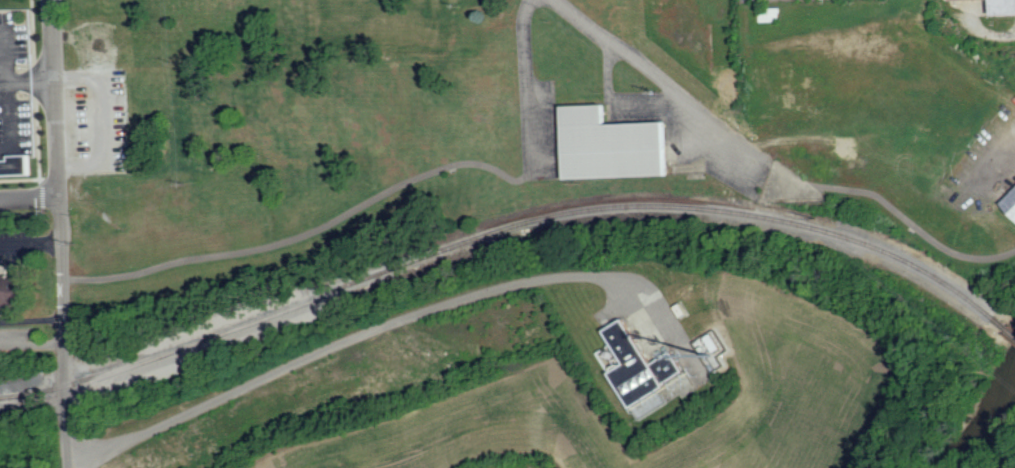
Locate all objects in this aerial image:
building: (955, 0)
building: (1003, 6)
road: (27, 80)
road: (8, 94)
parking lot: (96, 122)
road: (58, 139)
building: (609, 144)
road: (773, 163)
building: (14, 164)
road: (1002, 170)
road: (30, 195)
road: (381, 195)
building: (1009, 202)
road: (44, 216)
railway: (476, 242)
road: (30, 243)
building: (10, 291)
railway: (975, 306)
road: (32, 320)
road: (382, 326)
railway: (1004, 327)
road: (32, 342)
building: (638, 364)
road: (64, 373)
river: (986, 422)

